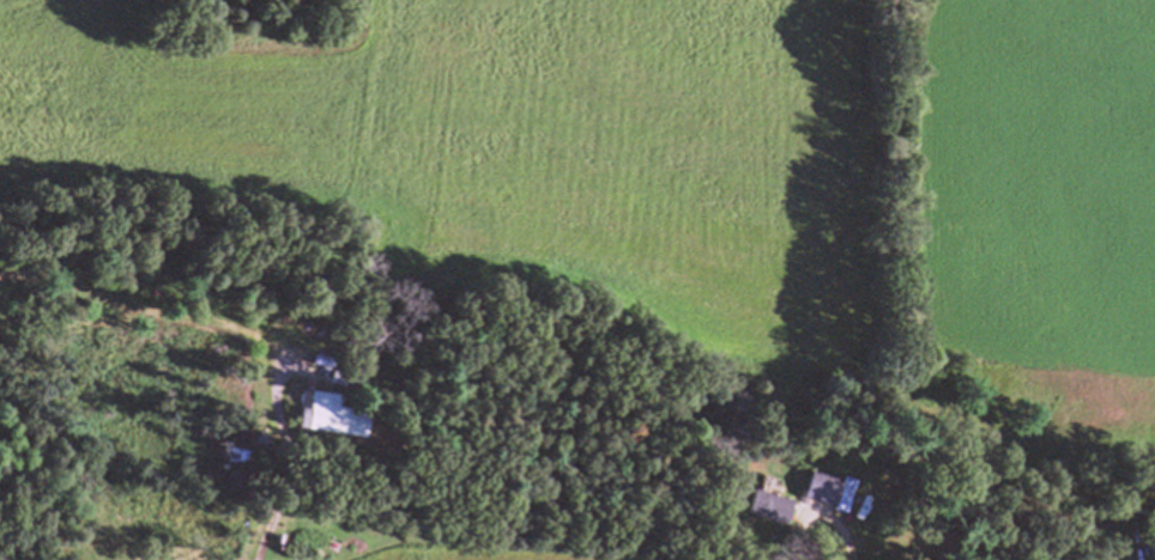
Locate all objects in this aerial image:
road: (246, 329)
building: (332, 414)
building: (814, 488)
building: (761, 507)

